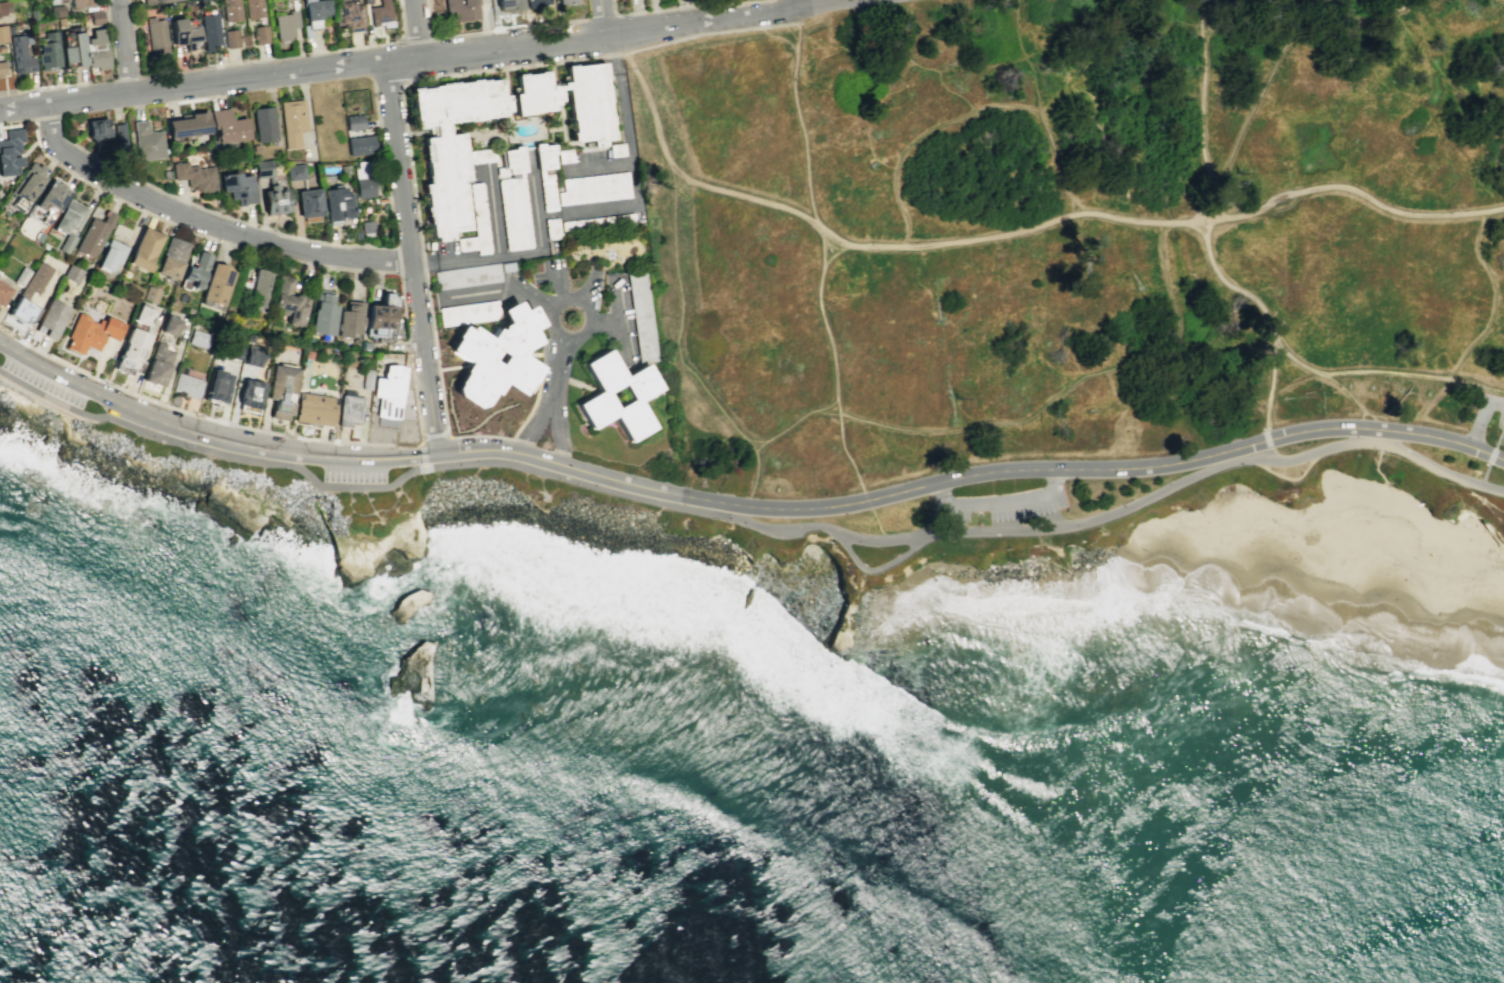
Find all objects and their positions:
road: (1503, 0)
building: (52, 1)
building: (162, 1)
building: (365, 1)
building: (566, 1)
building: (80, 3)
building: (534, 3)
building: (508, 4)
road: (801, 5)
building: (4, 7)
road: (679, 7)
building: (253, 8)
building: (55, 10)
building: (230, 10)
building: (460, 10)
building: (314, 12)
building: (31, 14)
building: (349, 14)
building: (380, 14)
road: (598, 14)
building: (96, 17)
road: (603, 17)
road: (734, 18)
road: (401, 21)
road: (1347, 21)
building: (285, 25)
road: (417, 28)
building: (8, 29)
road: (488, 29)
building: (209, 30)
building: (2, 33)
building: (182, 33)
building: (259, 34)
building: (155, 36)
building: (230, 38)
road: (413, 38)
building: (1, 46)
building: (72, 47)
road: (125, 47)
building: (96, 50)
building: (48, 51)
building: (20, 54)
road: (270, 57)
building: (1, 68)
road: (1439, 68)
road: (302, 70)
road: (1261, 86)
road: (43, 87)
road: (387, 88)
road: (399, 90)
building: (569, 101)
road: (1203, 110)
road: (800, 117)
road: (46, 120)
building: (292, 121)
building: (353, 122)
building: (263, 123)
building: (187, 125)
building: (226, 126)
building: (97, 128)
building: (119, 134)
building: (146, 141)
building: (451, 143)
building: (360, 144)
road: (381, 144)
building: (616, 149)
building: (10, 152)
building: (481, 155)
building: (564, 155)
road: (599, 167)
building: (294, 172)
building: (545, 173)
building: (193, 175)
building: (363, 178)
building: (28, 182)
road: (1477, 183)
road: (533, 185)
building: (237, 187)
building: (593, 188)
building: (271, 189)
road: (165, 193)
building: (51, 195)
building: (513, 199)
building: (308, 204)
building: (337, 204)
road: (592, 211)
road: (1282, 211)
road: (493, 213)
building: (69, 216)
road: (296, 218)
building: (475, 223)
road: (204, 224)
building: (366, 227)
road: (1013, 230)
building: (94, 233)
park: (1074, 234)
building: (39, 237)
road: (299, 237)
building: (67, 243)
road: (347, 244)
road: (822, 244)
building: (144, 248)
road: (262, 253)
building: (111, 254)
road: (410, 257)
building: (171, 258)
road: (395, 259)
building: (196, 269)
road: (410, 272)
road: (1161, 273)
building: (72, 274)
building: (22, 276)
building: (467, 276)
building: (216, 283)
road: (559, 284)
building: (257, 289)
road: (583, 289)
road: (498, 290)
building: (4, 292)
building: (29, 292)
building: (151, 294)
road: (579, 297)
building: (287, 300)
building: (468, 312)
building: (144, 314)
building: (323, 314)
road: (1266, 314)
building: (642, 315)
building: (380, 316)
building: (349, 317)
building: (50, 319)
road: (618, 319)
road: (605, 321)
road: (681, 324)
building: (170, 326)
road: (1039, 332)
building: (91, 333)
building: (199, 339)
building: (133, 348)
building: (231, 348)
building: (254, 354)
building: (496, 356)
road: (833, 363)
building: (158, 364)
road: (559, 367)
road: (1383, 372)
building: (367, 379)
road: (1291, 381)
parking lot: (43, 383)
building: (187, 385)
building: (218, 388)
building: (281, 389)
building: (388, 391)
road: (1347, 392)
building: (251, 393)
park: (15, 394)
building: (637, 395)
road: (555, 397)
road: (1497, 403)
building: (315, 409)
building: (350, 409)
parking lot: (1488, 409)
road: (1361, 414)
road: (200, 416)
road: (1480, 423)
road: (1368, 424)
road: (896, 425)
road: (1500, 426)
road: (1376, 431)
road: (1498, 434)
road: (434, 437)
road: (522, 440)
road: (1267, 441)
road: (403, 444)
road: (417, 444)
road: (1491, 454)
road: (421, 455)
road: (1275, 455)
park: (140, 460)
parking lot: (353, 473)
road: (1482, 475)
road: (1060, 478)
road: (1289, 478)
building: (776, 488)
road: (945, 495)
road: (404, 497)
road: (395, 500)
road: (866, 500)
road: (368, 503)
parking lot: (1002, 503)
road: (1005, 504)
road: (388, 506)
road: (742, 507)
road: (350, 509)
road: (374, 513)
road: (749, 522)
road: (877, 523)
park: (1063, 531)
road: (892, 559)

